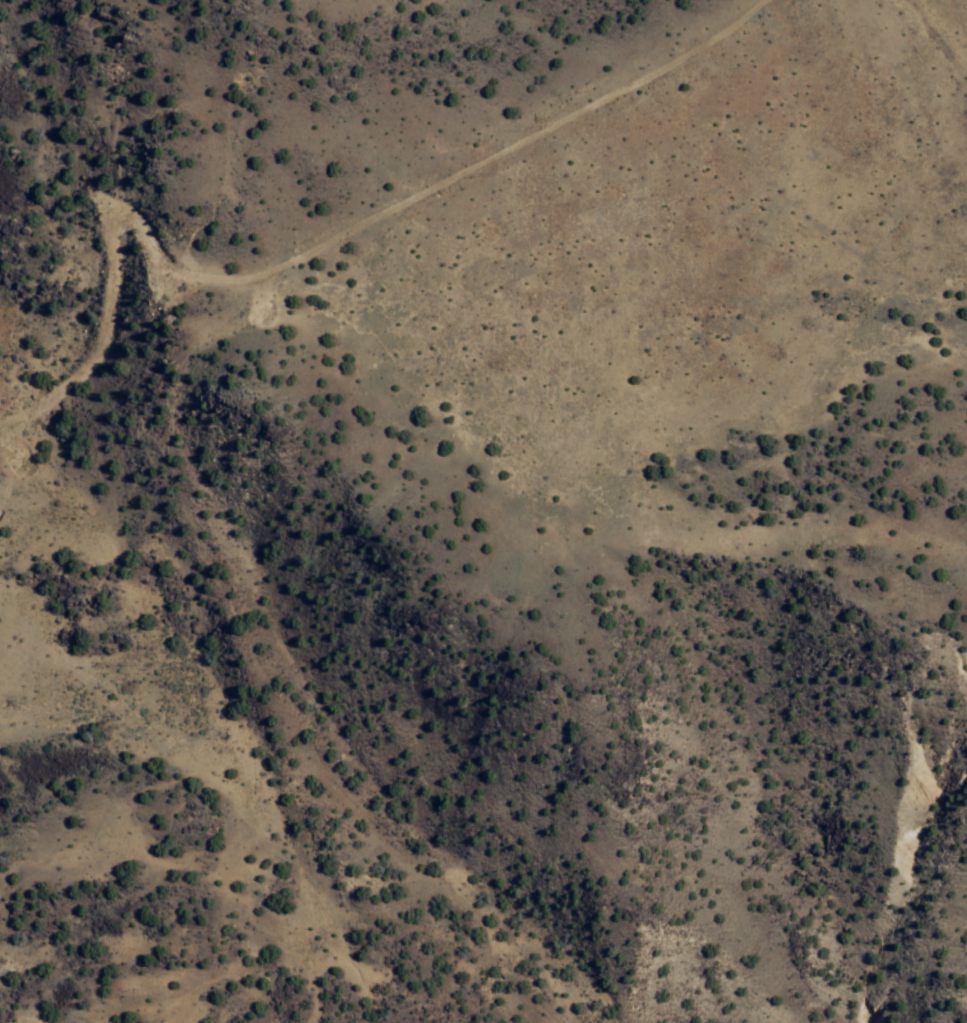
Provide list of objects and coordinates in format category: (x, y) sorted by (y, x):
road: (618, 651)
road: (205, 796)

